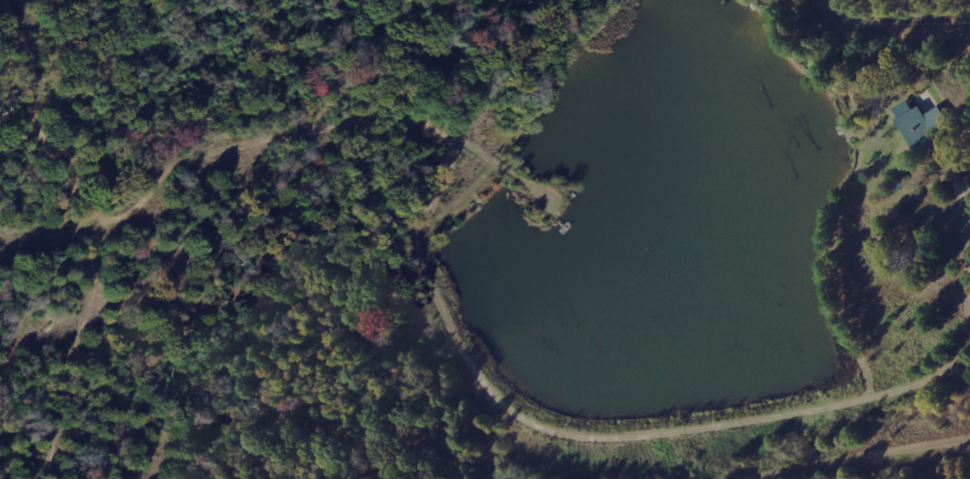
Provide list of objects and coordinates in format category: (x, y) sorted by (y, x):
building: (921, 123)

